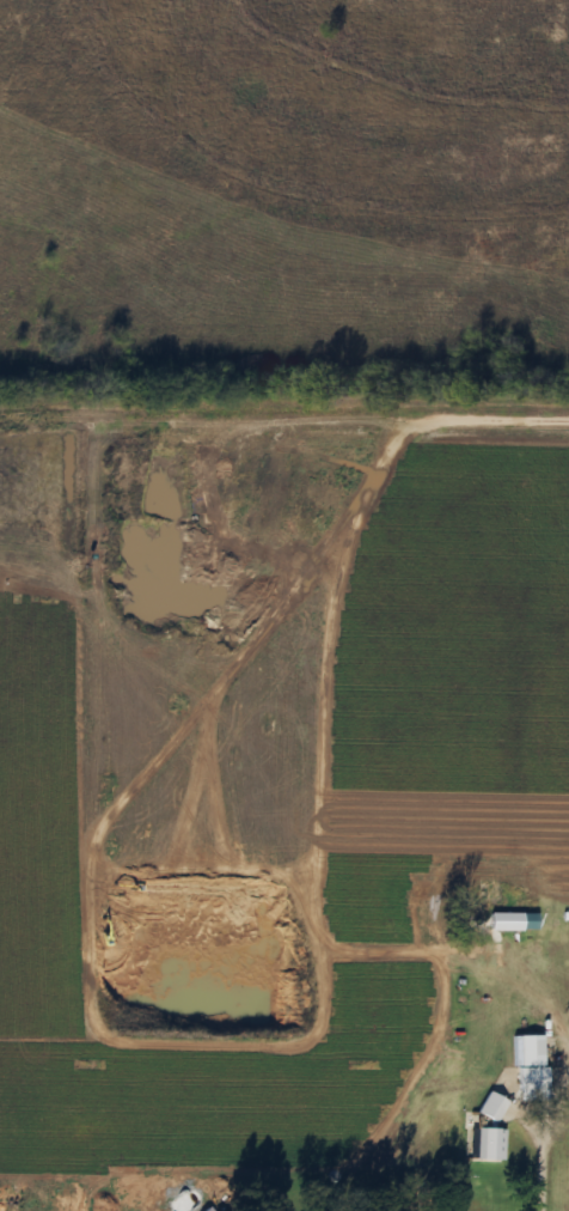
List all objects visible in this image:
road: (264, 468)
building: (502, 923)
road: (201, 949)
building: (531, 1084)
building: (490, 1109)
building: (489, 1145)
road: (539, 1152)

